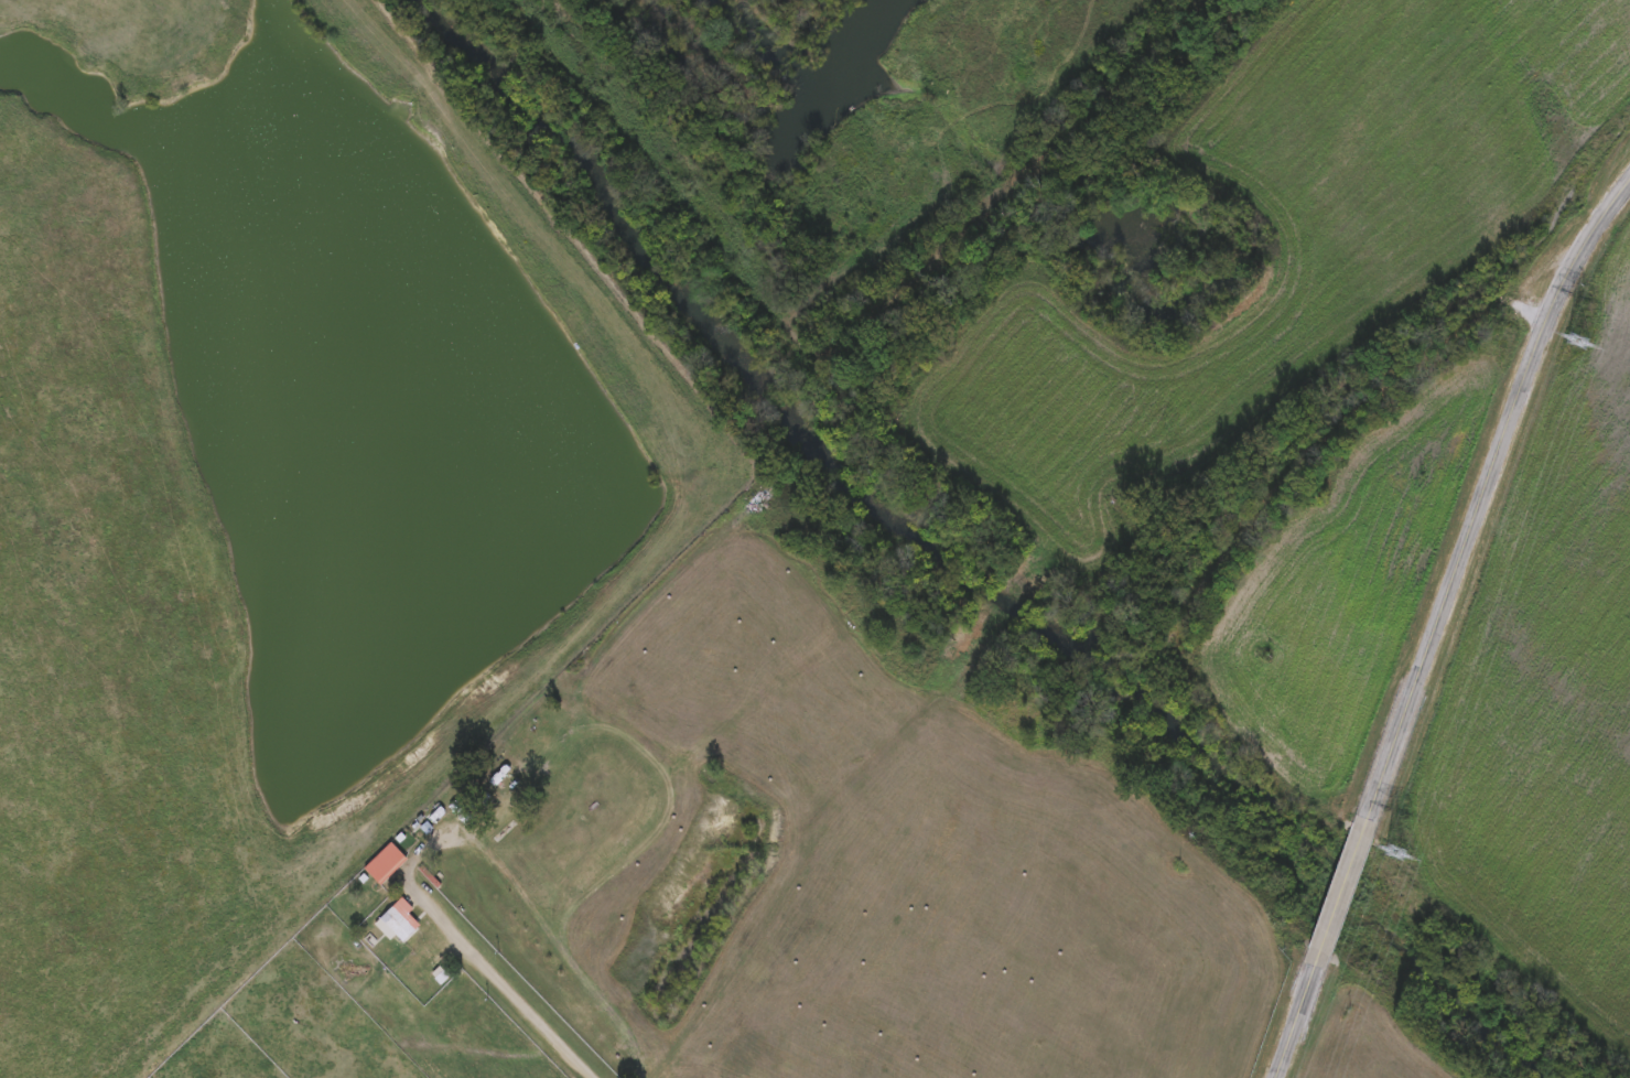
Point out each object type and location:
power tower: (1580, 310)
road: (1345, 420)
road: (1434, 625)
power tower: (1394, 852)
building: (384, 860)
building: (400, 918)
road: (507, 977)

